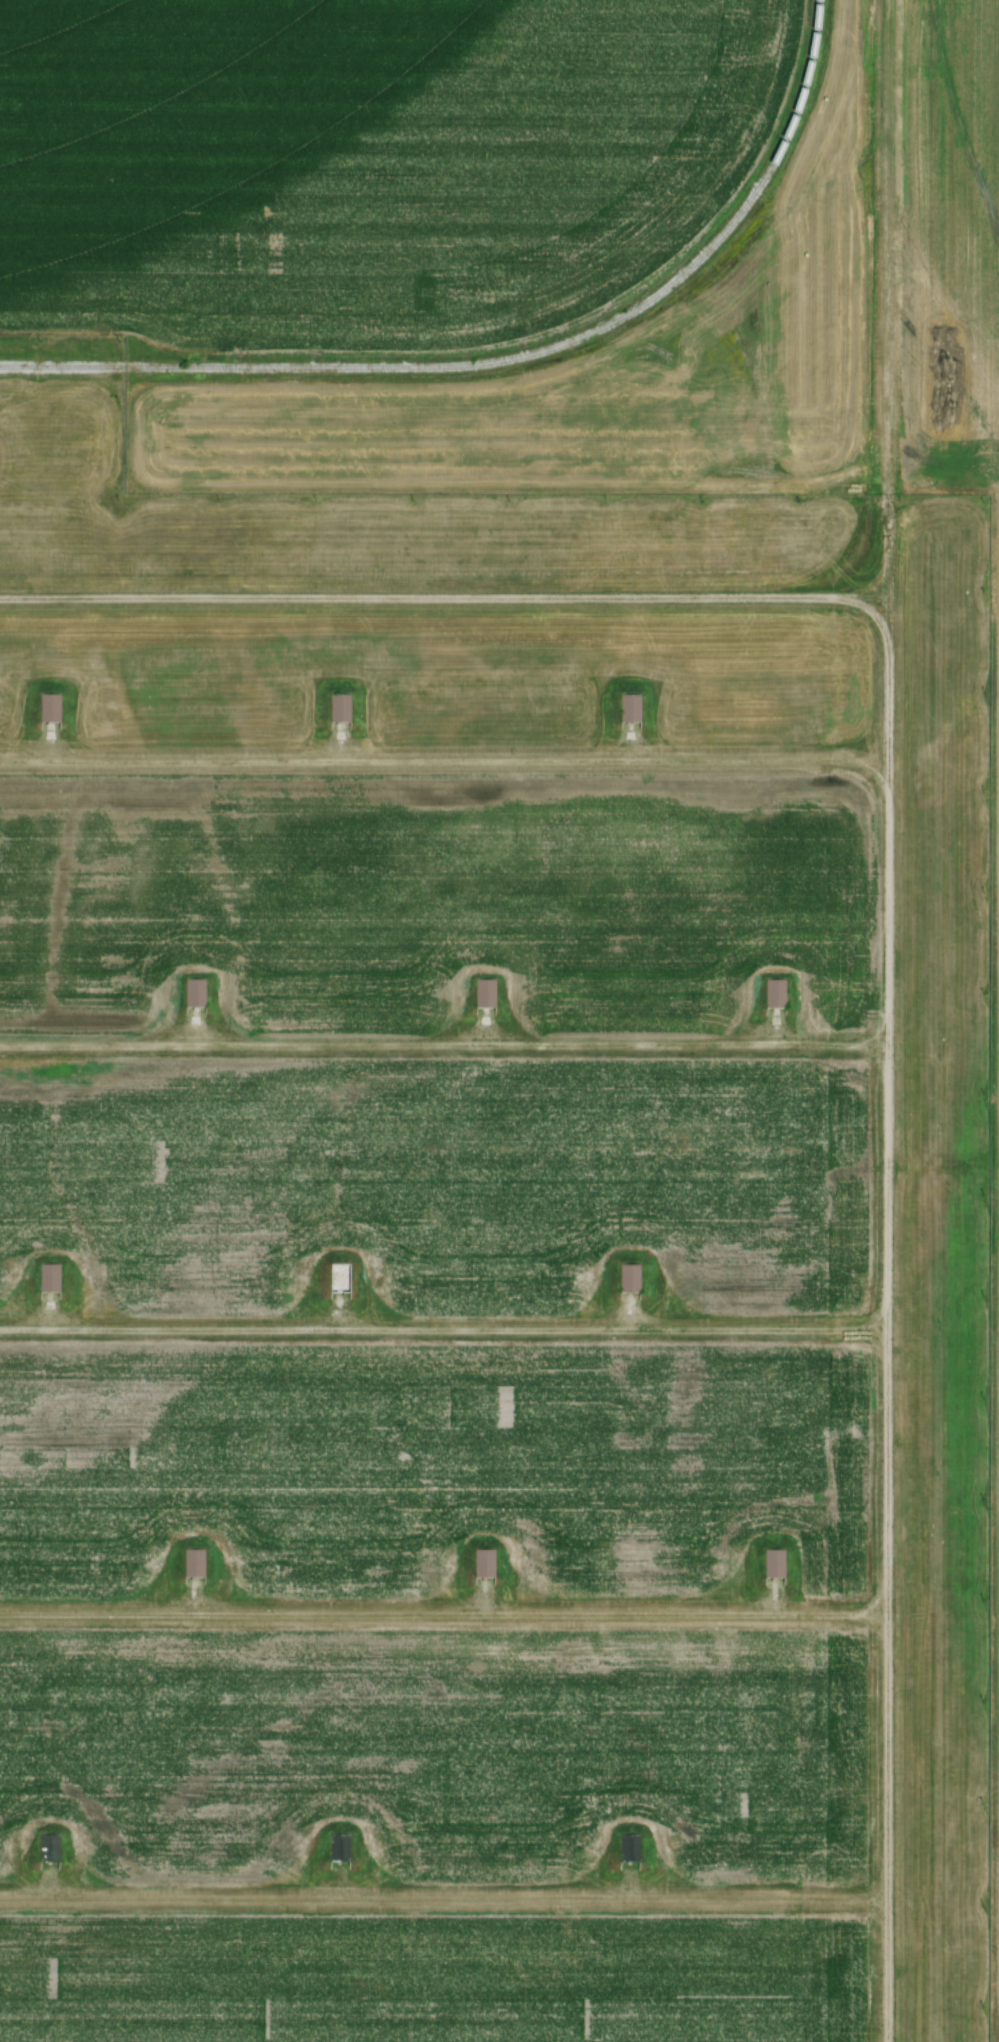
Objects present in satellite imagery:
railway: (510, 359)
road: (884, 391)
road: (446, 594)
building: (49, 708)
building: (339, 708)
building: (630, 708)
road: (886, 892)
building: (194, 993)
building: (485, 993)
building: (775, 994)
road: (443, 1043)
building: (49, 1278)
building: (339, 1278)
building: (629, 1279)
road: (444, 1328)
building: (193, 1563)
building: (484, 1563)
building: (774, 1563)
road: (443, 1612)
building: (48, 1848)
building: (337, 1848)
building: (628, 1849)
road: (442, 1896)
road: (885, 1969)

